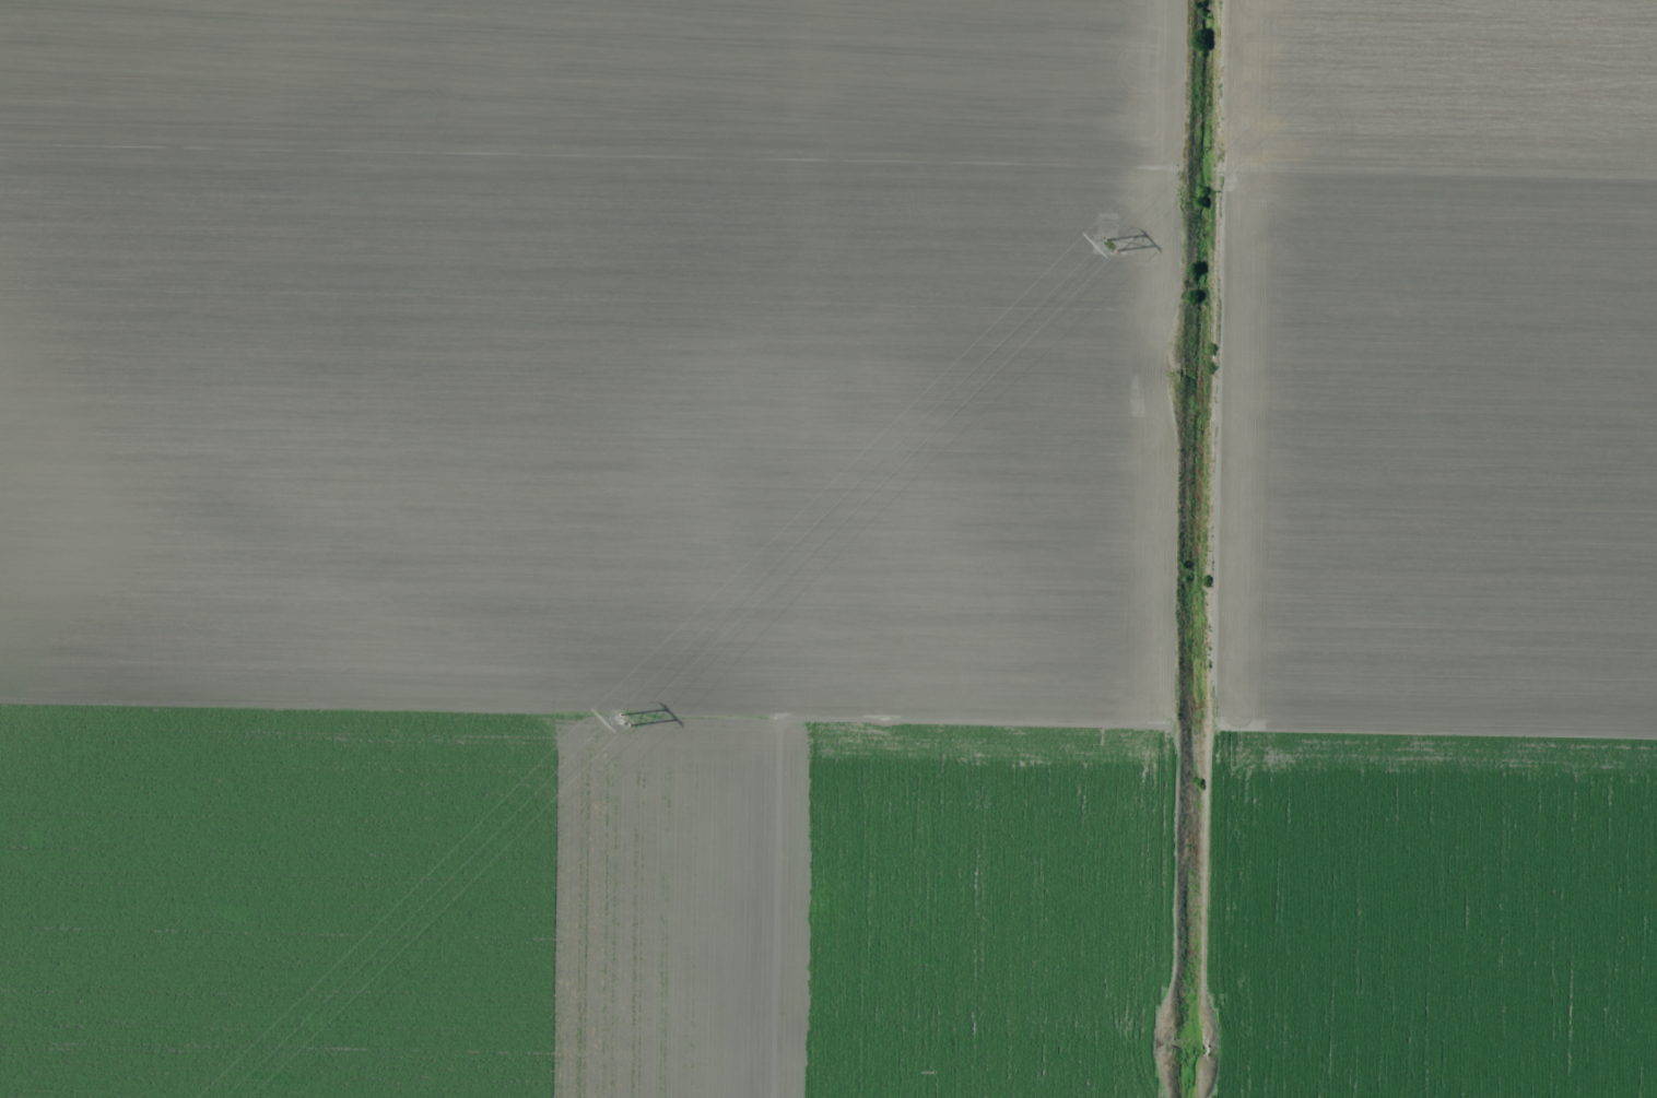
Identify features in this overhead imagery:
power tower: (1107, 245)
power tower: (628, 718)

